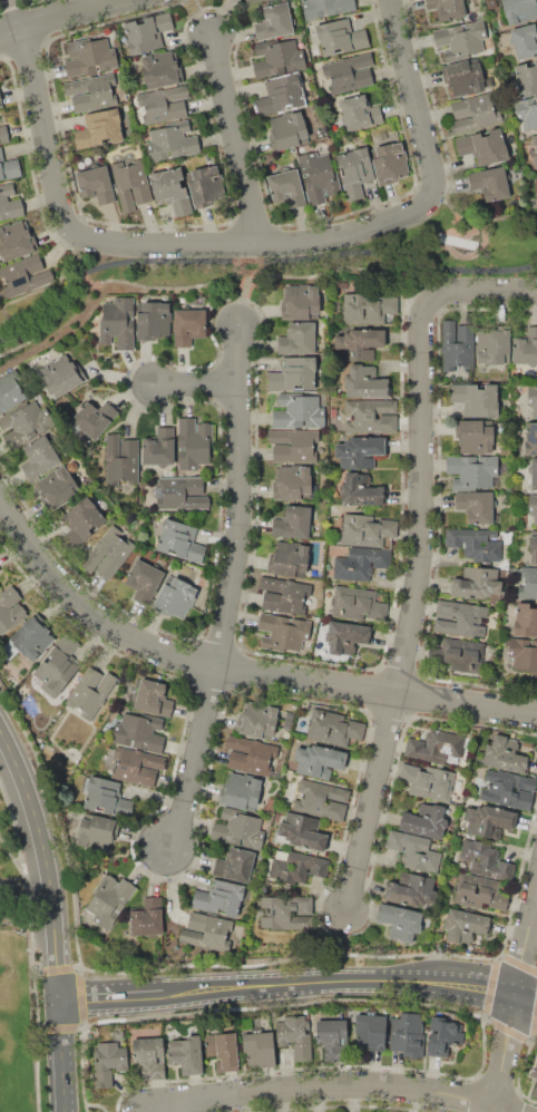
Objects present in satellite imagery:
building: (248, 0)
building: (326, 8)
building: (448, 8)
building: (519, 10)
road: (14, 16)
road: (61, 19)
road: (203, 19)
building: (275, 22)
building: (147, 32)
building: (341, 38)
building: (461, 39)
building: (525, 40)
building: (89, 57)
building: (279, 58)
building: (160, 69)
building: (349, 72)
building: (465, 76)
building: (527, 79)
building: (92, 91)
road: (414, 94)
building: (281, 95)
building: (0, 100)
building: (164, 105)
building: (527, 111)
building: (360, 113)
building: (475, 114)
building: (100, 128)
building: (287, 130)
building: (4, 134)
road: (235, 139)
building: (534, 139)
building: (172, 142)
building: (484, 146)
building: (535, 158)
building: (391, 163)
building: (9, 167)
building: (355, 173)
building: (319, 176)
building: (490, 182)
building: (96, 184)
building: (131, 184)
building: (204, 186)
building: (536, 187)
building: (286, 188)
building: (170, 189)
building: (10, 203)
building: (16, 241)
road: (159, 245)
road: (304, 271)
building: (25, 275)
road: (248, 283)
road: (70, 286)
road: (489, 293)
building: (300, 302)
building: (367, 309)
building: (154, 321)
building: (118, 322)
building: (188, 325)
building: (297, 339)
building: (359, 343)
building: (457, 344)
building: (494, 347)
building: (526, 348)
building: (294, 374)
building: (61, 375)
building: (365, 381)
road: (201, 389)
building: (10, 392)
building: (533, 398)
building: (476, 399)
building: (300, 411)
building: (371, 416)
building: (95, 418)
building: (27, 425)
building: (476, 437)
building: (530, 438)
building: (194, 445)
building: (293, 445)
building: (159, 447)
building: (360, 451)
building: (40, 457)
building: (121, 460)
building: (472, 471)
building: (534, 474)
building: (293, 484)
building: (59, 486)
building: (361, 490)
road: (423, 492)
building: (180, 494)
road: (241, 501)
building: (476, 506)
building: (533, 507)
building: (81, 521)
building: (295, 523)
building: (367, 530)
building: (180, 540)
building: (475, 543)
building: (533, 549)
building: (108, 553)
building: (289, 559)
building: (360, 563)
building: (144, 581)
building: (477, 583)
building: (528, 583)
building: (284, 595)
building: (176, 598)
building: (358, 603)
building: (10, 607)
building: (459, 618)
building: (525, 618)
building: (283, 632)
building: (346, 636)
building: (29, 640)
building: (523, 653)
building: (459, 654)
building: (56, 667)
road: (234, 676)
building: (90, 691)
building: (153, 698)
building: (257, 720)
building: (333, 726)
building: (139, 731)
building: (436, 745)
building: (250, 754)
building: (506, 754)
building: (319, 760)
road: (195, 761)
building: (137, 767)
building: (428, 781)
building: (509, 789)
building: (242, 791)
building: (105, 796)
building: (320, 799)
road: (373, 804)
building: (489, 820)
building: (426, 821)
building: (238, 829)
building: (301, 831)
building: (97, 832)
building: (413, 851)
building: (485, 860)
building: (235, 865)
building: (295, 866)
road: (43, 868)
road: (23, 884)
building: (411, 890)
building: (479, 892)
building: (219, 897)
building: (110, 899)
building: (286, 913)
road: (26, 914)
building: (147, 917)
building: (400, 921)
building: (468, 928)
building: (206, 931)
road: (346, 947)
road: (339, 982)
road: (527, 997)
road: (110, 998)
road: (515, 1011)
park: (19, 1012)
building: (370, 1031)
building: (295, 1035)
building: (407, 1035)
building: (443, 1036)
building: (332, 1038)
building: (261, 1048)
building: (223, 1050)
building: (186, 1054)
road: (66, 1056)
building: (150, 1057)
building: (108, 1062)
building: (534, 1072)
road: (338, 1085)
building: (535, 1092)
road: (168, 1111)

